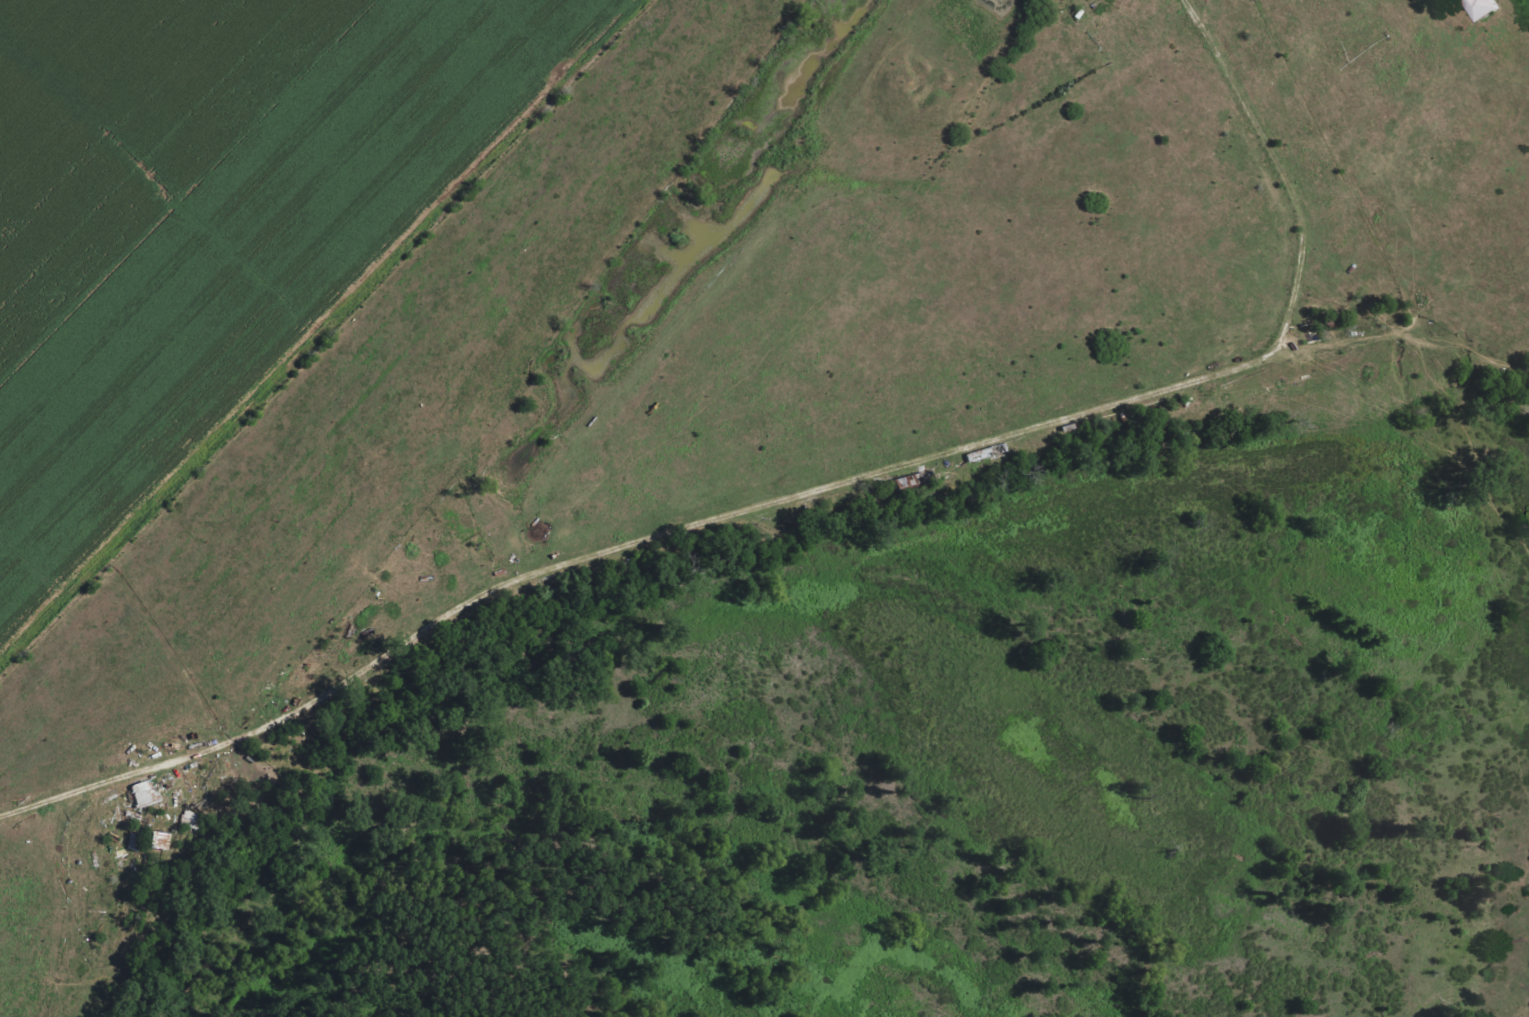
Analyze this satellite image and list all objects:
road: (136, 773)

